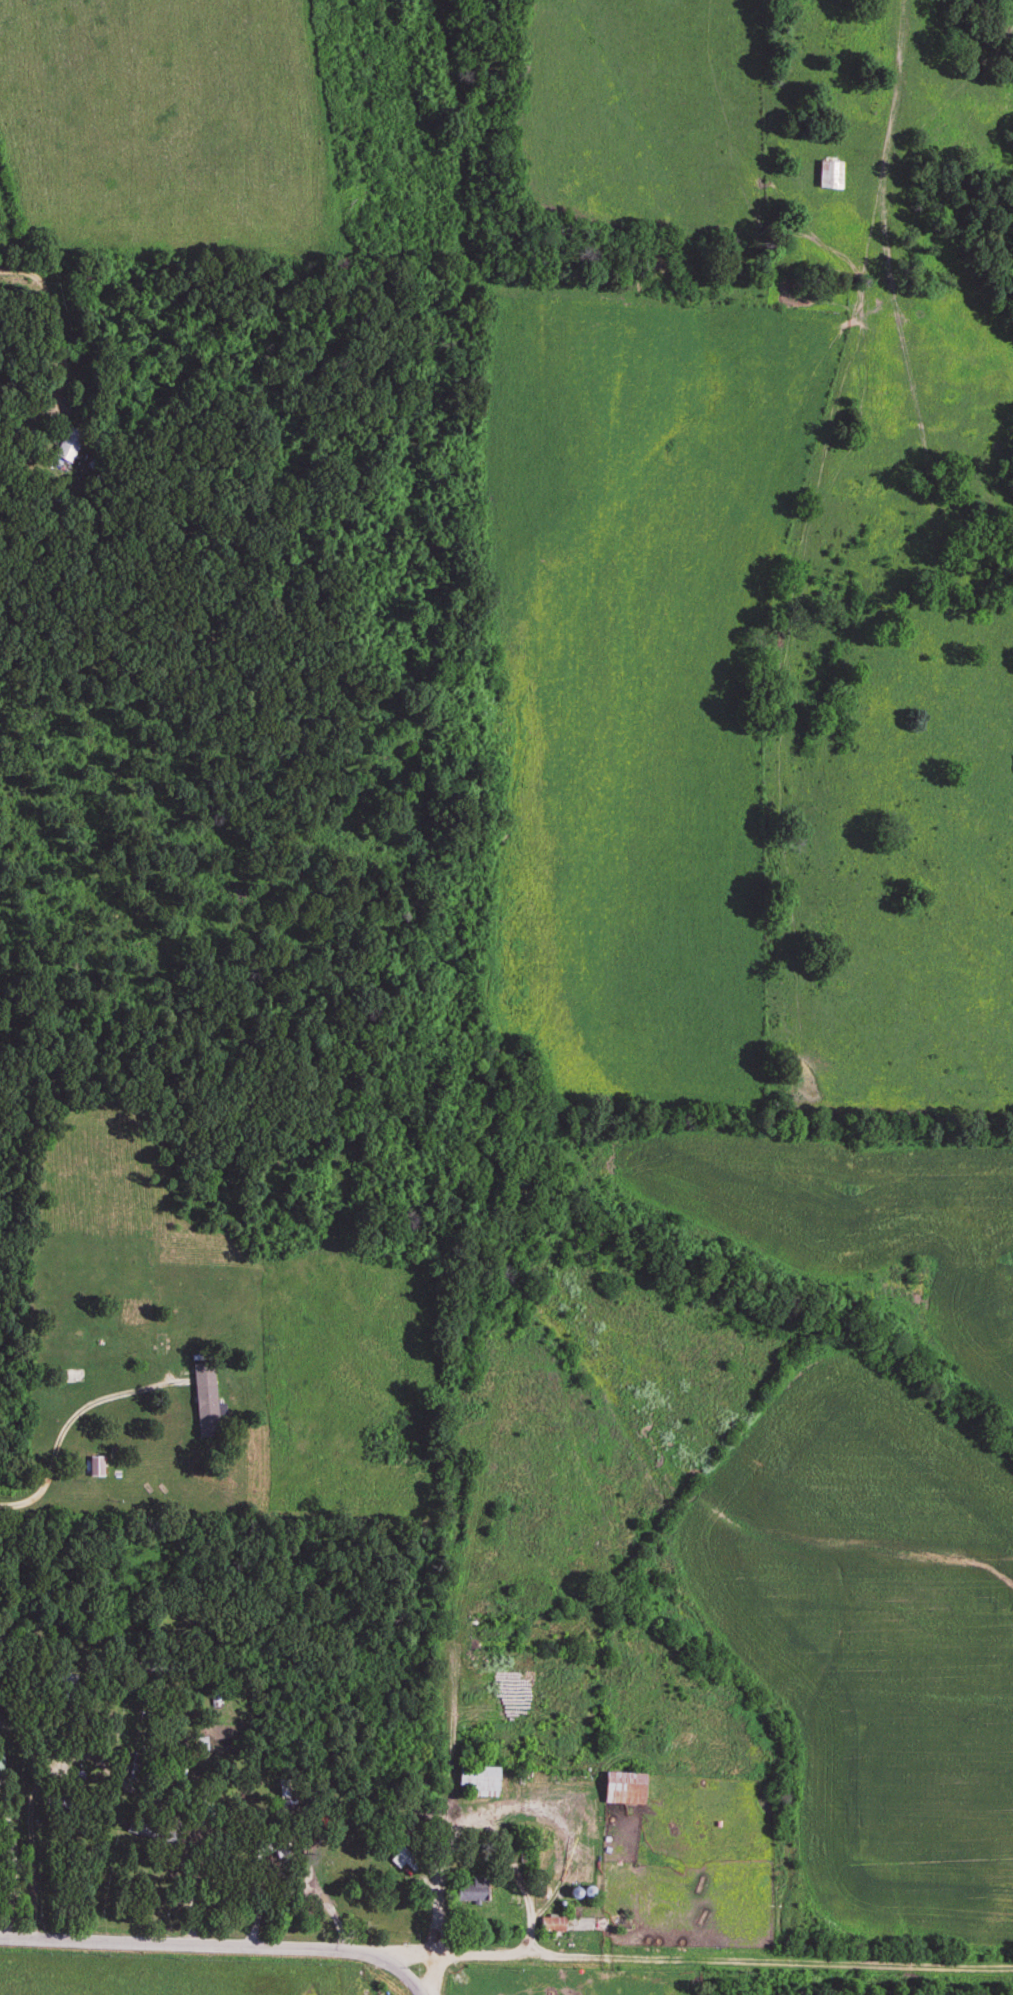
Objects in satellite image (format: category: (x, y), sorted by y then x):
building: (829, 175)
road: (55, 315)
building: (68, 444)
building: (68, 1377)
road: (75, 1406)
building: (206, 1413)
building: (67, 1678)
building: (478, 1782)
building: (622, 1789)
building: (404, 1857)
building: (472, 1891)
building: (550, 1926)
road: (223, 1941)
road: (408, 1950)
road: (727, 1958)
road: (437, 1973)

